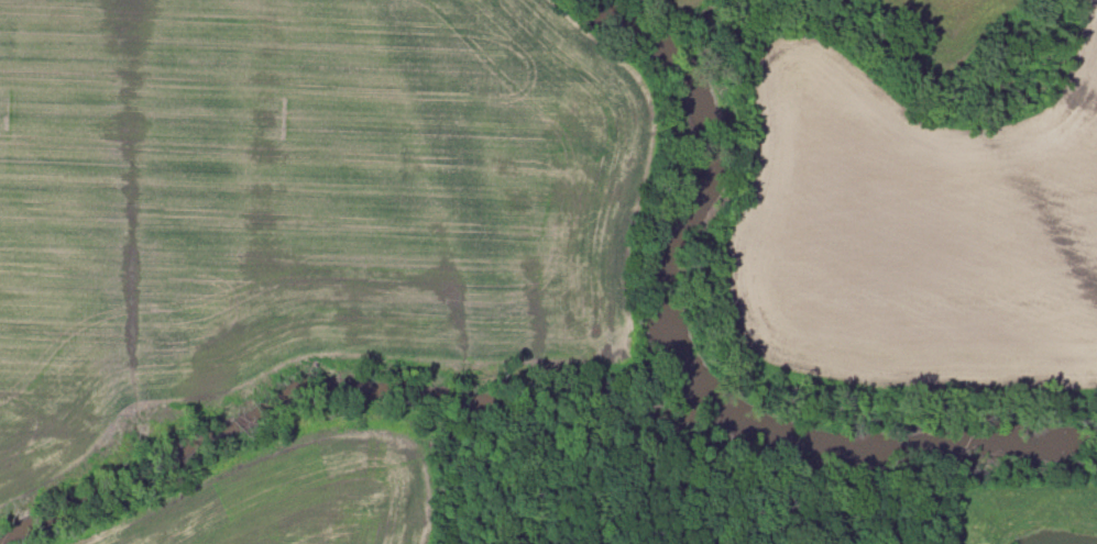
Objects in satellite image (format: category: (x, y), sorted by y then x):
river: (687, 376)
crop: (312, 487)

